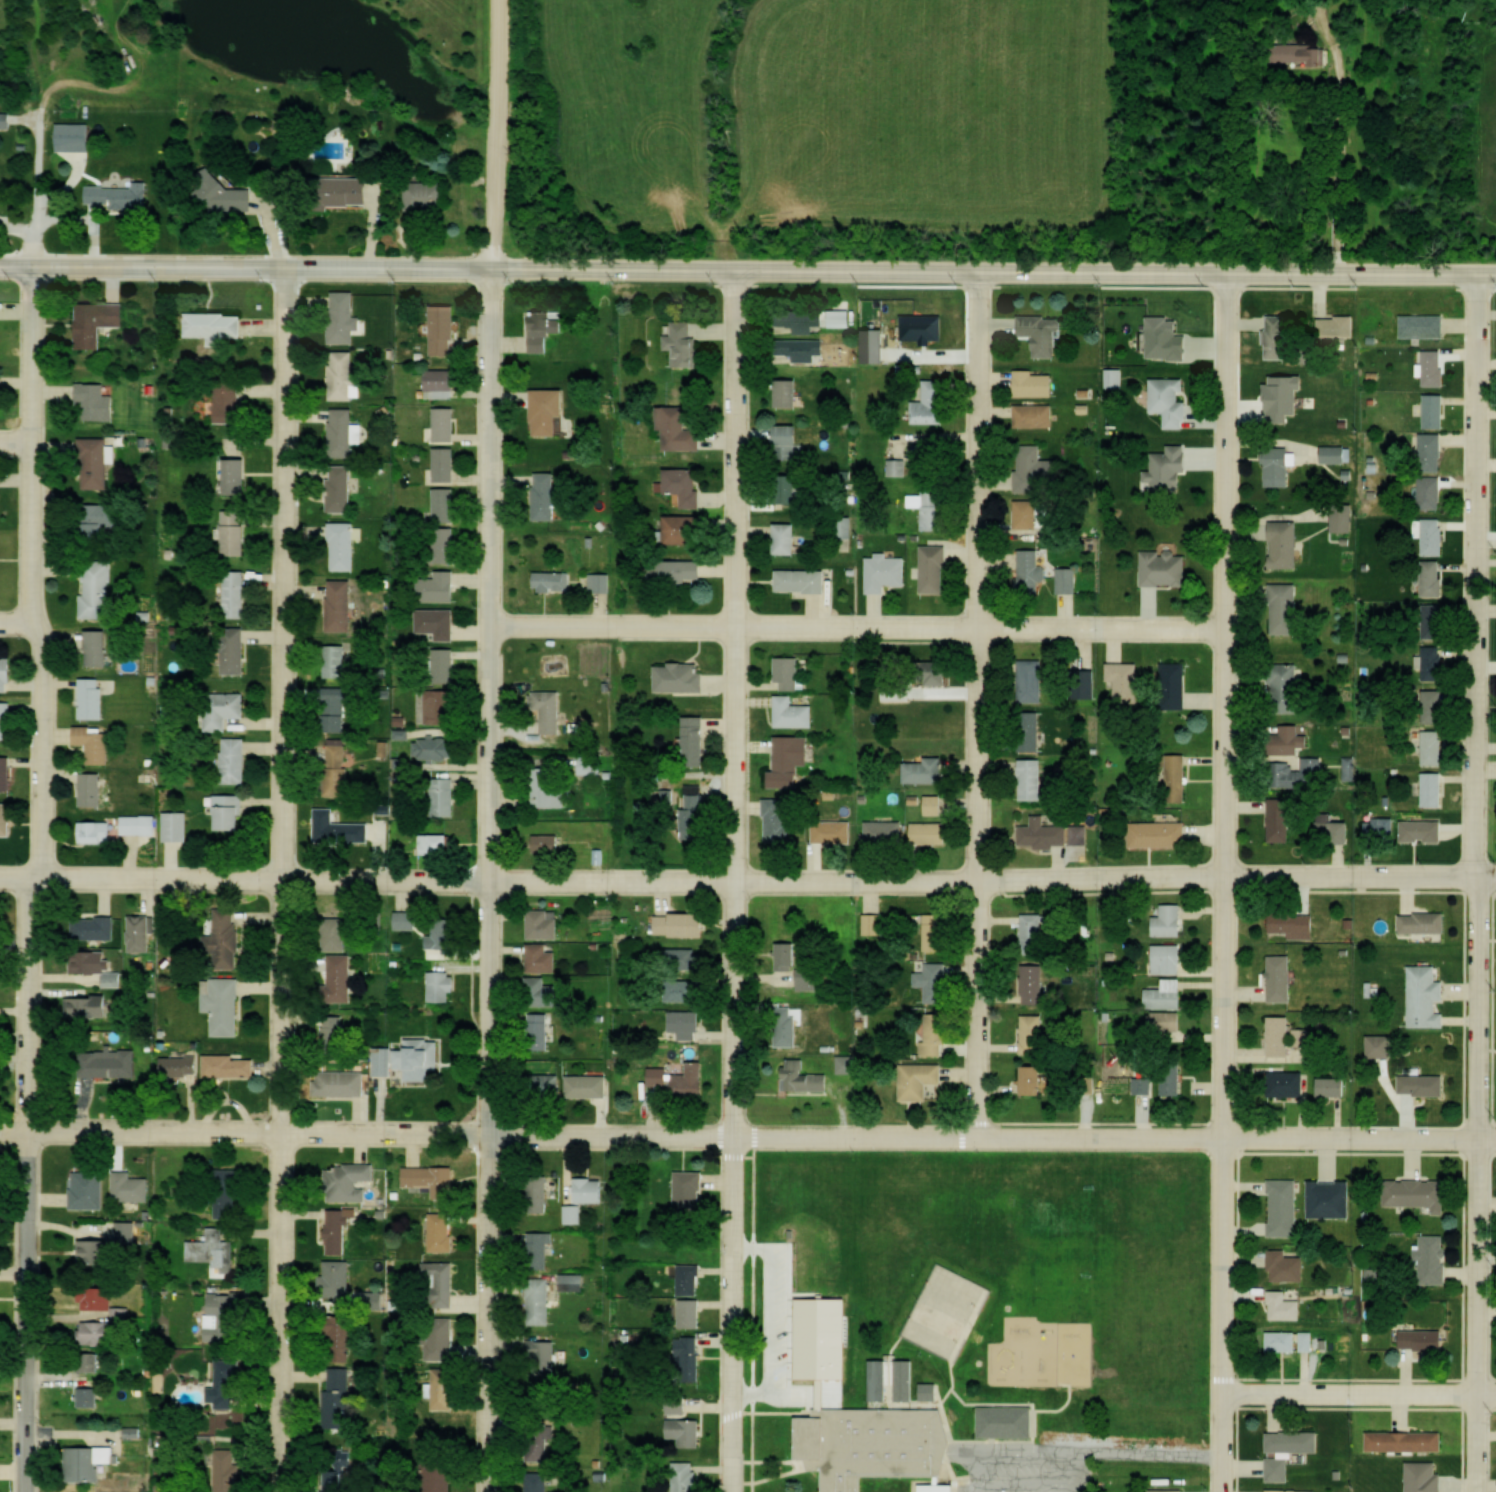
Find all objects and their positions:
building: (1296, 53)
road: (499, 135)
building: (76, 136)
road: (1390, 136)
building: (349, 189)
building: (227, 195)
building: (428, 195)
building: (119, 196)
road: (748, 270)
building: (345, 317)
building: (930, 318)
building: (799, 319)
building: (96, 321)
building: (1337, 324)
building: (1424, 324)
building: (217, 325)
building: (545, 327)
building: (443, 329)
building: (1041, 332)
building: (1278, 335)
building: (684, 343)
building: (802, 349)
building: (1434, 366)
building: (1115, 376)
building: (344, 377)
building: (439, 382)
building: (1036, 383)
building: (788, 391)
building: (1171, 399)
building: (228, 400)
building: (96, 401)
building: (931, 402)
building: (1434, 407)
building: (547, 410)
building: (1034, 414)
building: (445, 423)
building: (678, 428)
building: (344, 431)
building: (789, 439)
road: (36, 443)
road: (18, 444)
building: (1432, 451)
building: (1337, 453)
building: (928, 457)
building: (445, 463)
building: (1280, 463)
building: (93, 464)
building: (897, 466)
building: (1032, 467)
building: (1169, 468)
building: (235, 475)
building: (685, 484)
building: (786, 488)
building: (339, 489)
building: (1431, 491)
building: (547, 495)
building: (445, 504)
building: (928, 508)
building: (1027, 514)
building: (1343, 517)
building: (102, 518)
building: (683, 529)
building: (235, 532)
building: (1434, 536)
building: (786, 538)
building: (443, 544)
building: (1285, 544)
building: (341, 546)
building: (1032, 566)
building: (1164, 567)
building: (934, 569)
building: (681, 571)
building: (887, 573)
building: (1432, 577)
building: (1069, 579)
building: (801, 580)
building: (552, 581)
building: (600, 582)
building: (438, 587)
building: (95, 589)
building: (234, 594)
building: (339, 605)
building: (1284, 607)
building: (1431, 616)
road: (17, 620)
building: (437, 622)
road: (860, 632)
building: (96, 644)
building: (234, 650)
building: (335, 661)
building: (1434, 662)
building: (441, 666)
building: (787, 673)
building: (6, 674)
building: (680, 677)
building: (1031, 679)
building: (1125, 682)
building: (1174, 684)
building: (1285, 687)
building: (92, 698)
road: (284, 703)
building: (1432, 704)
road: (984, 705)
building: (437, 707)
building: (223, 709)
building: (337, 711)
building: (549, 712)
building: (792, 713)
building: (5, 718)
building: (1029, 730)
building: (1292, 738)
building: (695, 740)
building: (95, 743)
building: (1433, 746)
building: (434, 748)
building: (234, 760)
building: (787, 760)
building: (338, 767)
building: (925, 770)
building: (5, 773)
building: (1301, 773)
building: (1177, 777)
building: (1030, 778)
building: (549, 787)
building: (1434, 788)
building: (91, 789)
building: (442, 797)
building: (933, 803)
building: (696, 808)
building: (230, 812)
building: (1281, 818)
building: (5, 819)
building: (780, 819)
building: (139, 824)
building: (173, 826)
building: (1381, 828)
building: (1424, 829)
building: (95, 831)
building: (833, 831)
building: (882, 831)
building: (1338, 831)
building: (346, 832)
building: (932, 832)
building: (1043, 833)
building: (1159, 833)
building: (435, 844)
building: (548, 844)
road: (491, 880)
road: (739, 880)
road: (748, 882)
road: (1229, 882)
road: (1483, 883)
building: (406, 920)
building: (1170, 920)
building: (1293, 920)
building: (1424, 922)
building: (544, 924)
building: (689, 924)
building: (871, 924)
building: (94, 927)
building: (445, 931)
building: (934, 931)
building: (139, 932)
building: (1035, 932)
building: (335, 933)
building: (226, 939)
building: (786, 954)
building: (679, 958)
building: (1169, 958)
building: (542, 959)
building: (97, 965)
building: (339, 978)
building: (1281, 978)
building: (933, 981)
building: (1033, 984)
building: (442, 986)
building: (685, 990)
building: (541, 991)
building: (1167, 995)
building: (1426, 997)
building: (222, 1004)
building: (87, 1005)
building: (1168, 1021)
building: (686, 1023)
building: (786, 1027)
building: (334, 1031)
building: (539, 1031)
building: (1034, 1033)
building: (1281, 1035)
building: (1303, 1037)
building: (927, 1041)
building: (1380, 1046)
road: (44, 1053)
building: (382, 1058)
building: (419, 1058)
building: (108, 1063)
building: (179, 1066)
building: (230, 1066)
building: (659, 1076)
building: (803, 1076)
building: (1175, 1078)
building: (919, 1080)
building: (1036, 1080)
building: (691, 1081)
building: (344, 1083)
building: (1287, 1084)
building: (546, 1085)
building: (1143, 1085)
building: (1424, 1085)
building: (587, 1086)
building: (1334, 1086)
road: (747, 1139)
building: (349, 1181)
building: (427, 1181)
building: (131, 1186)
building: (88, 1189)
building: (590, 1190)
building: (689, 1191)
building: (1415, 1193)
building: (228, 1194)
building: (538, 1195)
building: (1329, 1198)
building: (1283, 1207)
building: (573, 1214)
building: (339, 1229)
building: (441, 1232)
building: (214, 1250)
building: (540, 1251)
park: (1150, 1252)
building: (97, 1253)
building: (1433, 1259)
building: (1286, 1266)
building: (689, 1279)
building: (338, 1282)
building: (438, 1284)
building: (539, 1301)
building: (1284, 1306)
park: (945, 1310)
building: (228, 1313)
building: (690, 1313)
road: (287, 1315)
building: (99, 1332)
building: (339, 1337)
building: (440, 1338)
building: (1423, 1339)
building: (1284, 1340)
building: (1307, 1340)
building: (690, 1351)
building: (541, 1353)
building: (892, 1380)
building: (228, 1384)
building: (442, 1388)
building: (930, 1391)
building: (89, 1396)
road: (1361, 1396)
building: (338, 1398)
building: (1004, 1419)
building: (688, 1433)
building: (1294, 1441)
building: (1406, 1441)
building: (876, 1446)
building: (88, 1462)
building: (1278, 1469)
building: (226, 1470)
building: (337, 1470)
building: (437, 1476)
building: (685, 1476)
building: (1425, 1476)
building: (535, 1481)
building: (1166, 1490)
building: (1292, 1490)

